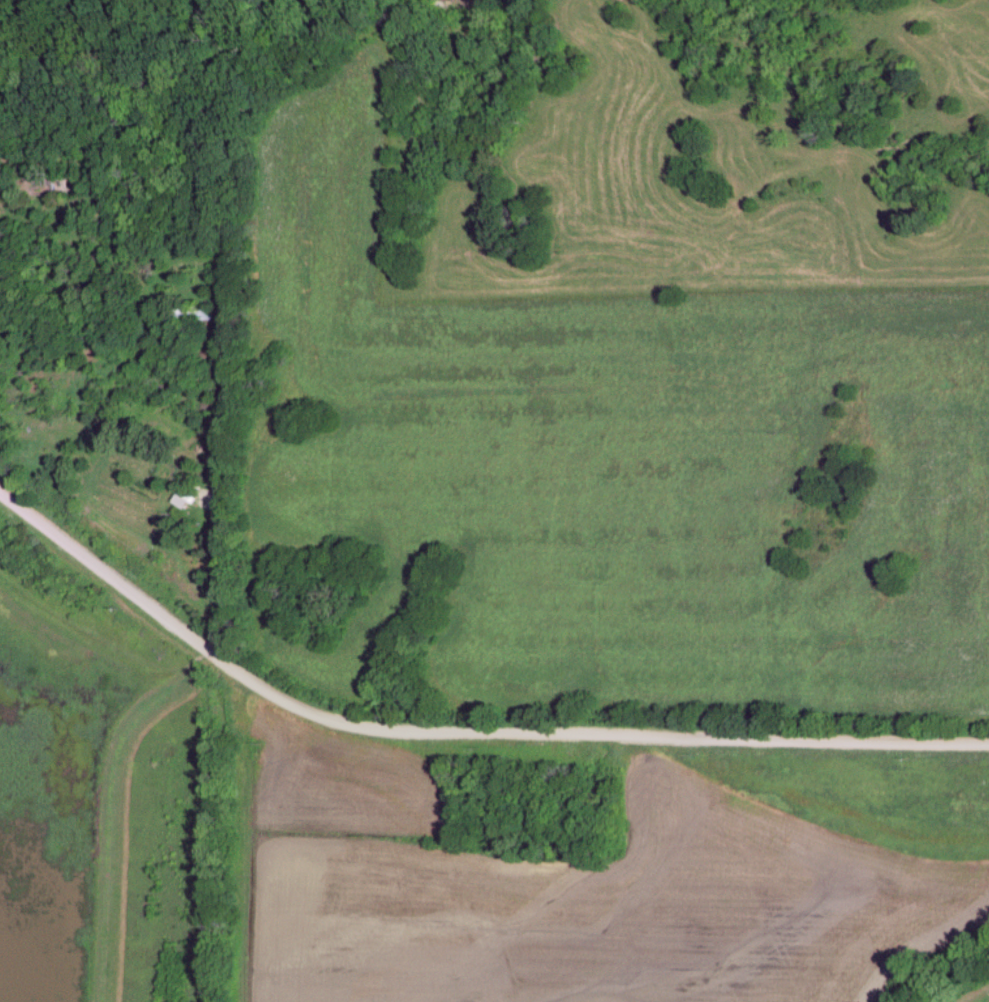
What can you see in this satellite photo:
road: (222, 457)
road: (459, 730)

